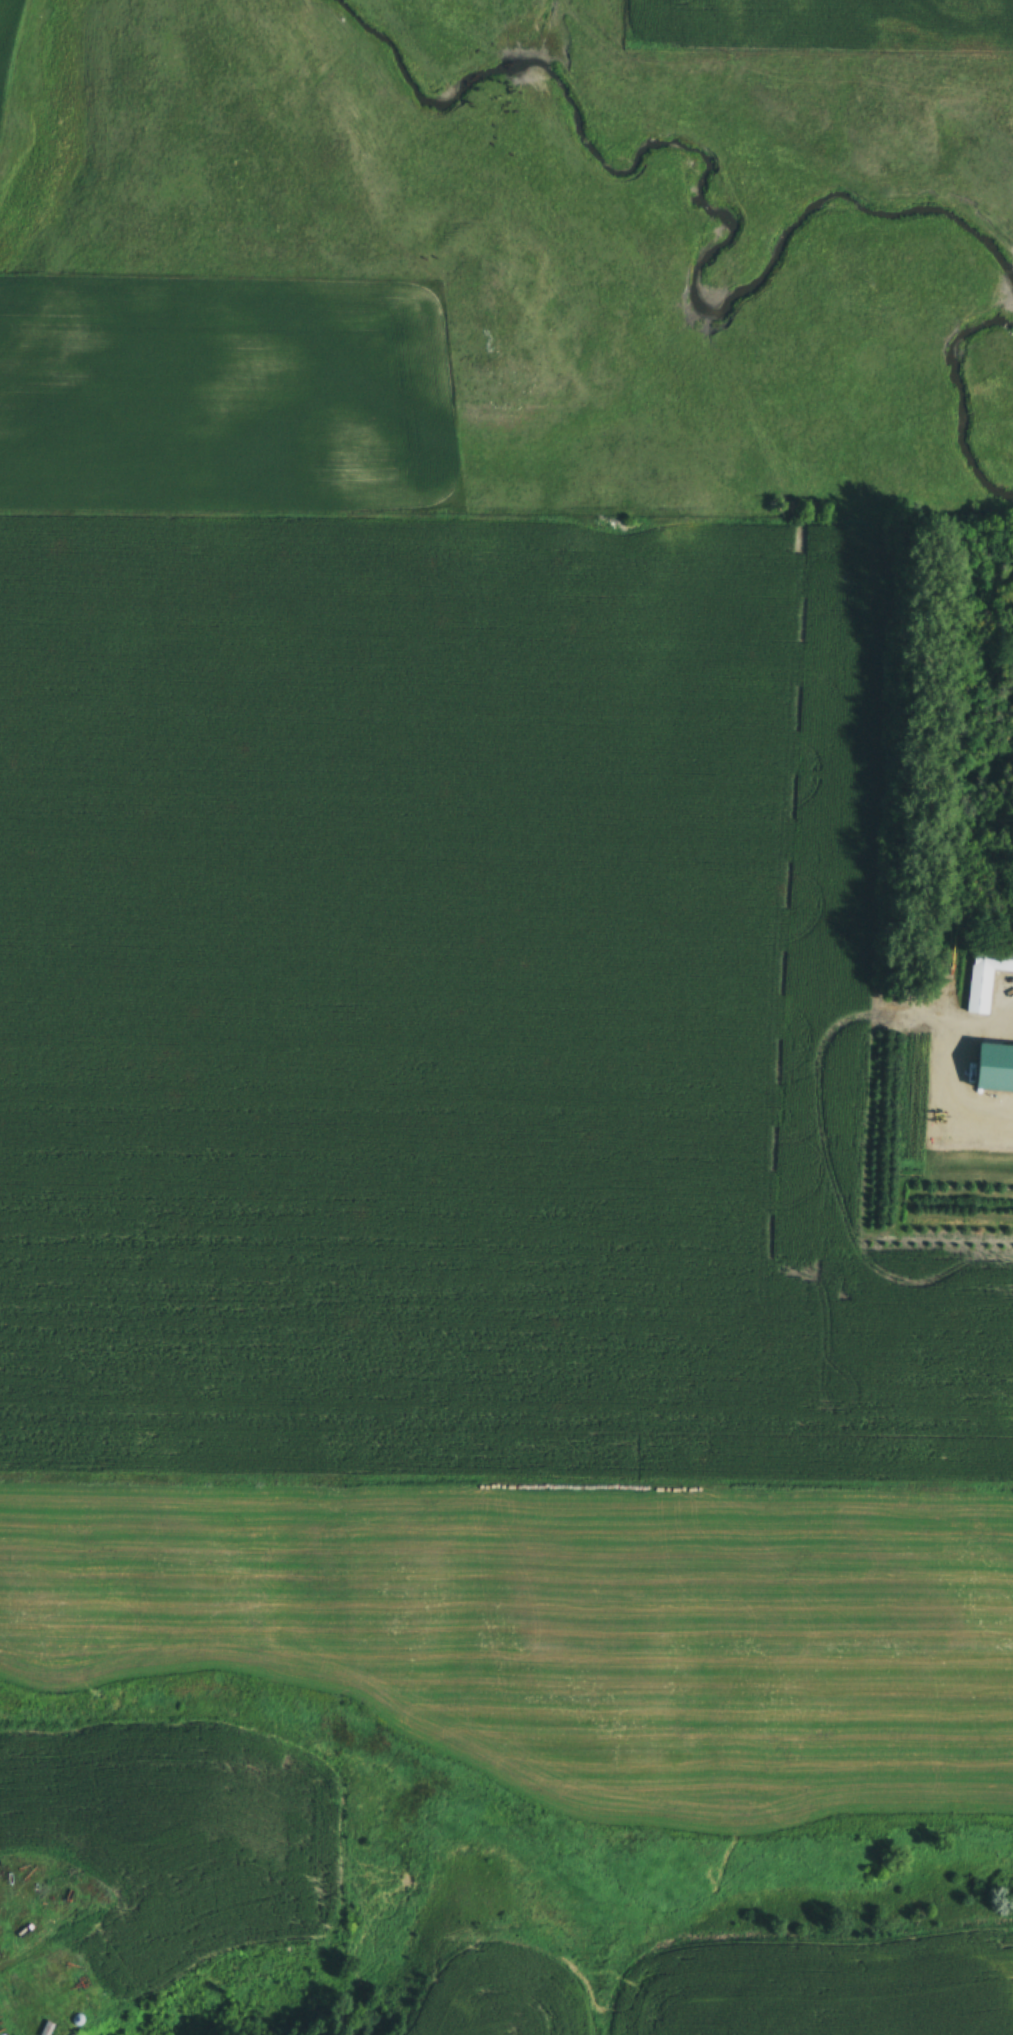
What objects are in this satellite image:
building: (985, 977)
building: (983, 1068)

